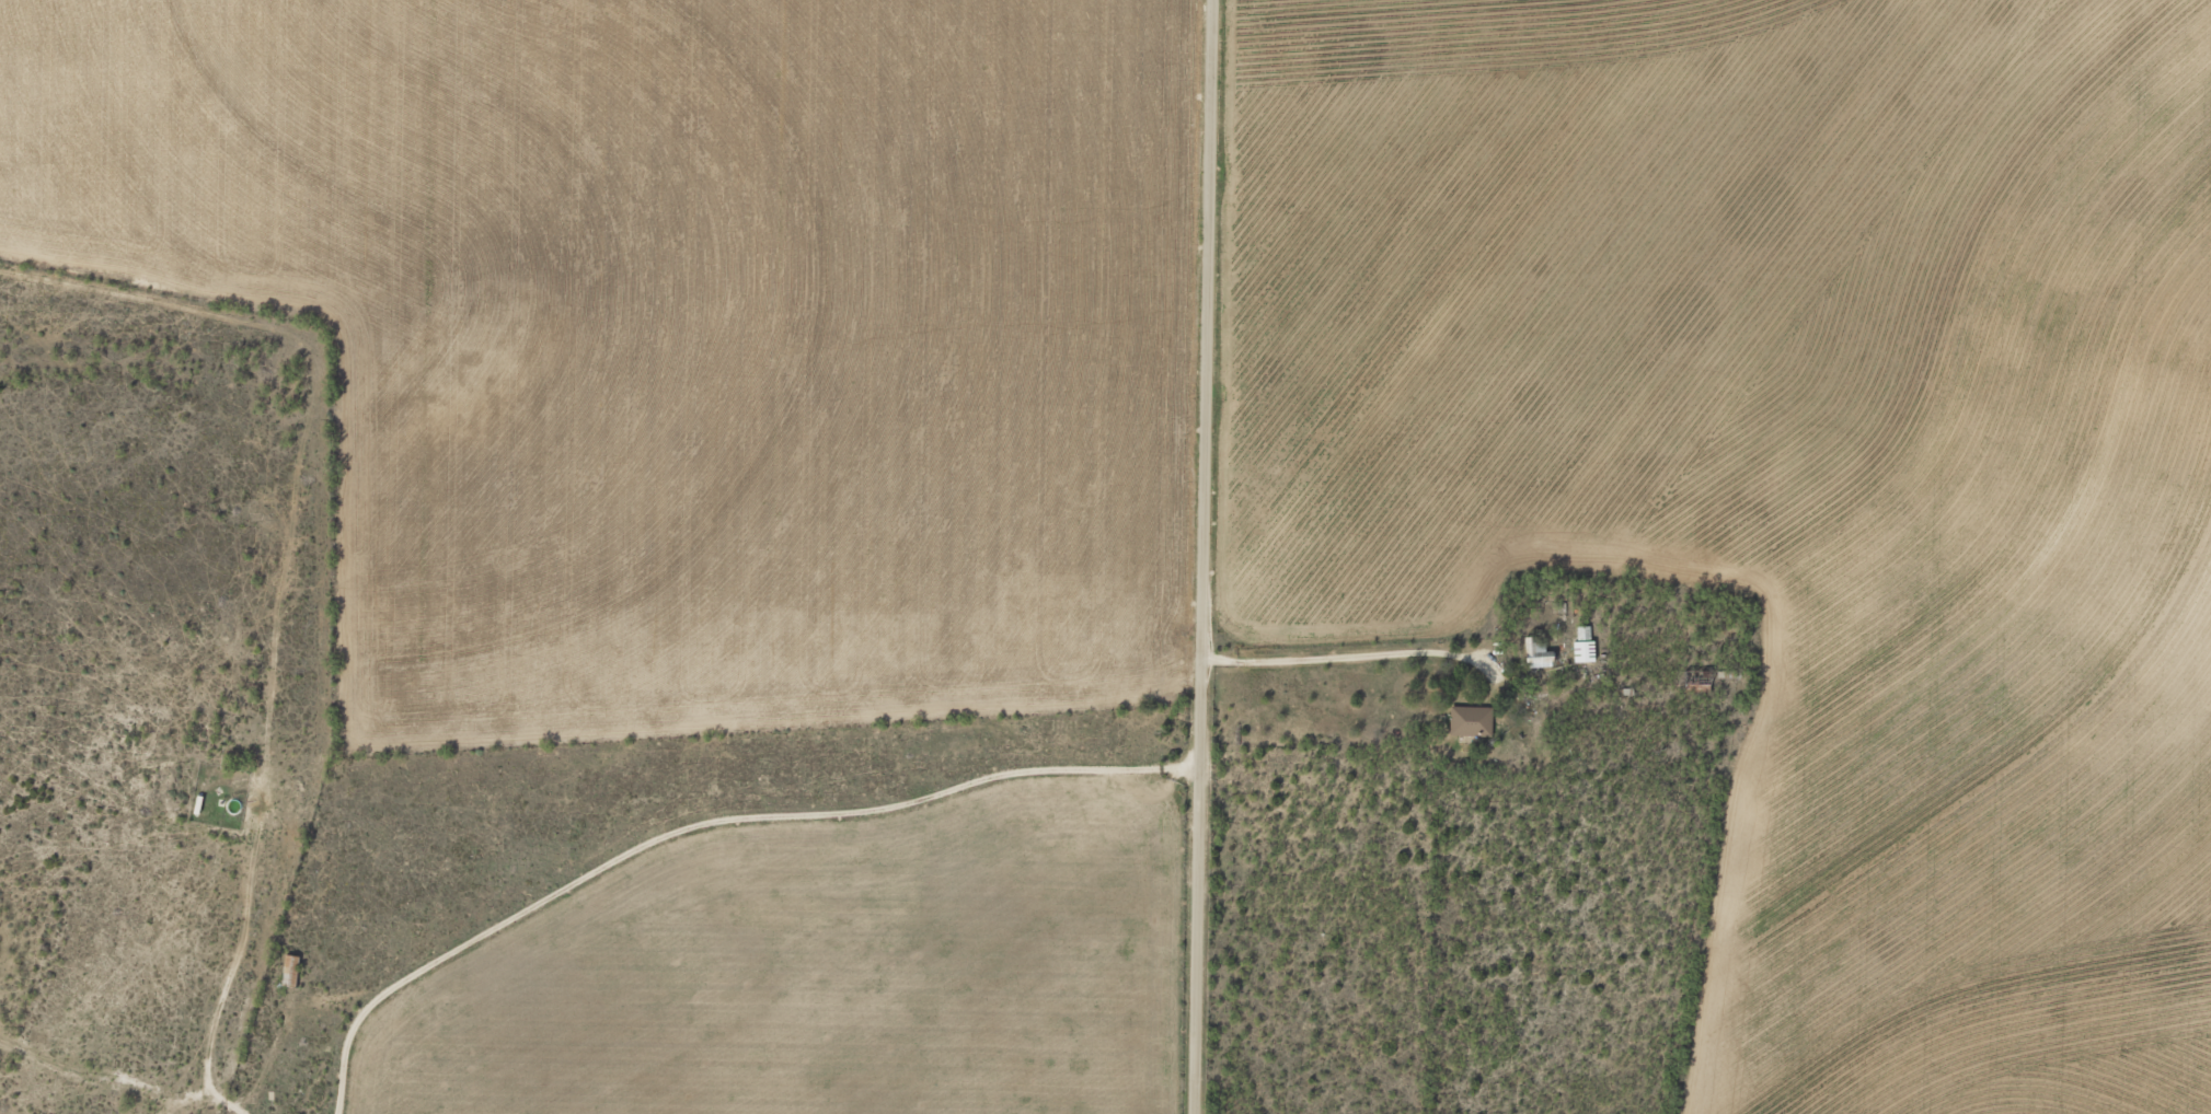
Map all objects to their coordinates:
road: (1237, 557)
road: (1410, 661)
building: (1472, 721)
road: (120, 1071)

